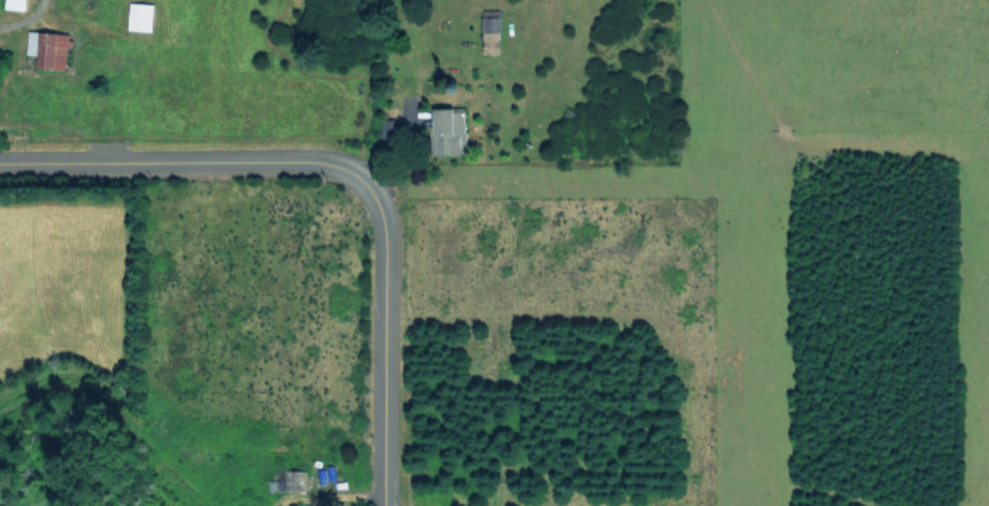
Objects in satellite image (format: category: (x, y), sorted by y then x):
building: (16, 4)
building: (140, 16)
road: (24, 17)
building: (492, 34)
building: (49, 48)
building: (388, 128)
building: (450, 130)
road: (348, 167)
building: (295, 479)

